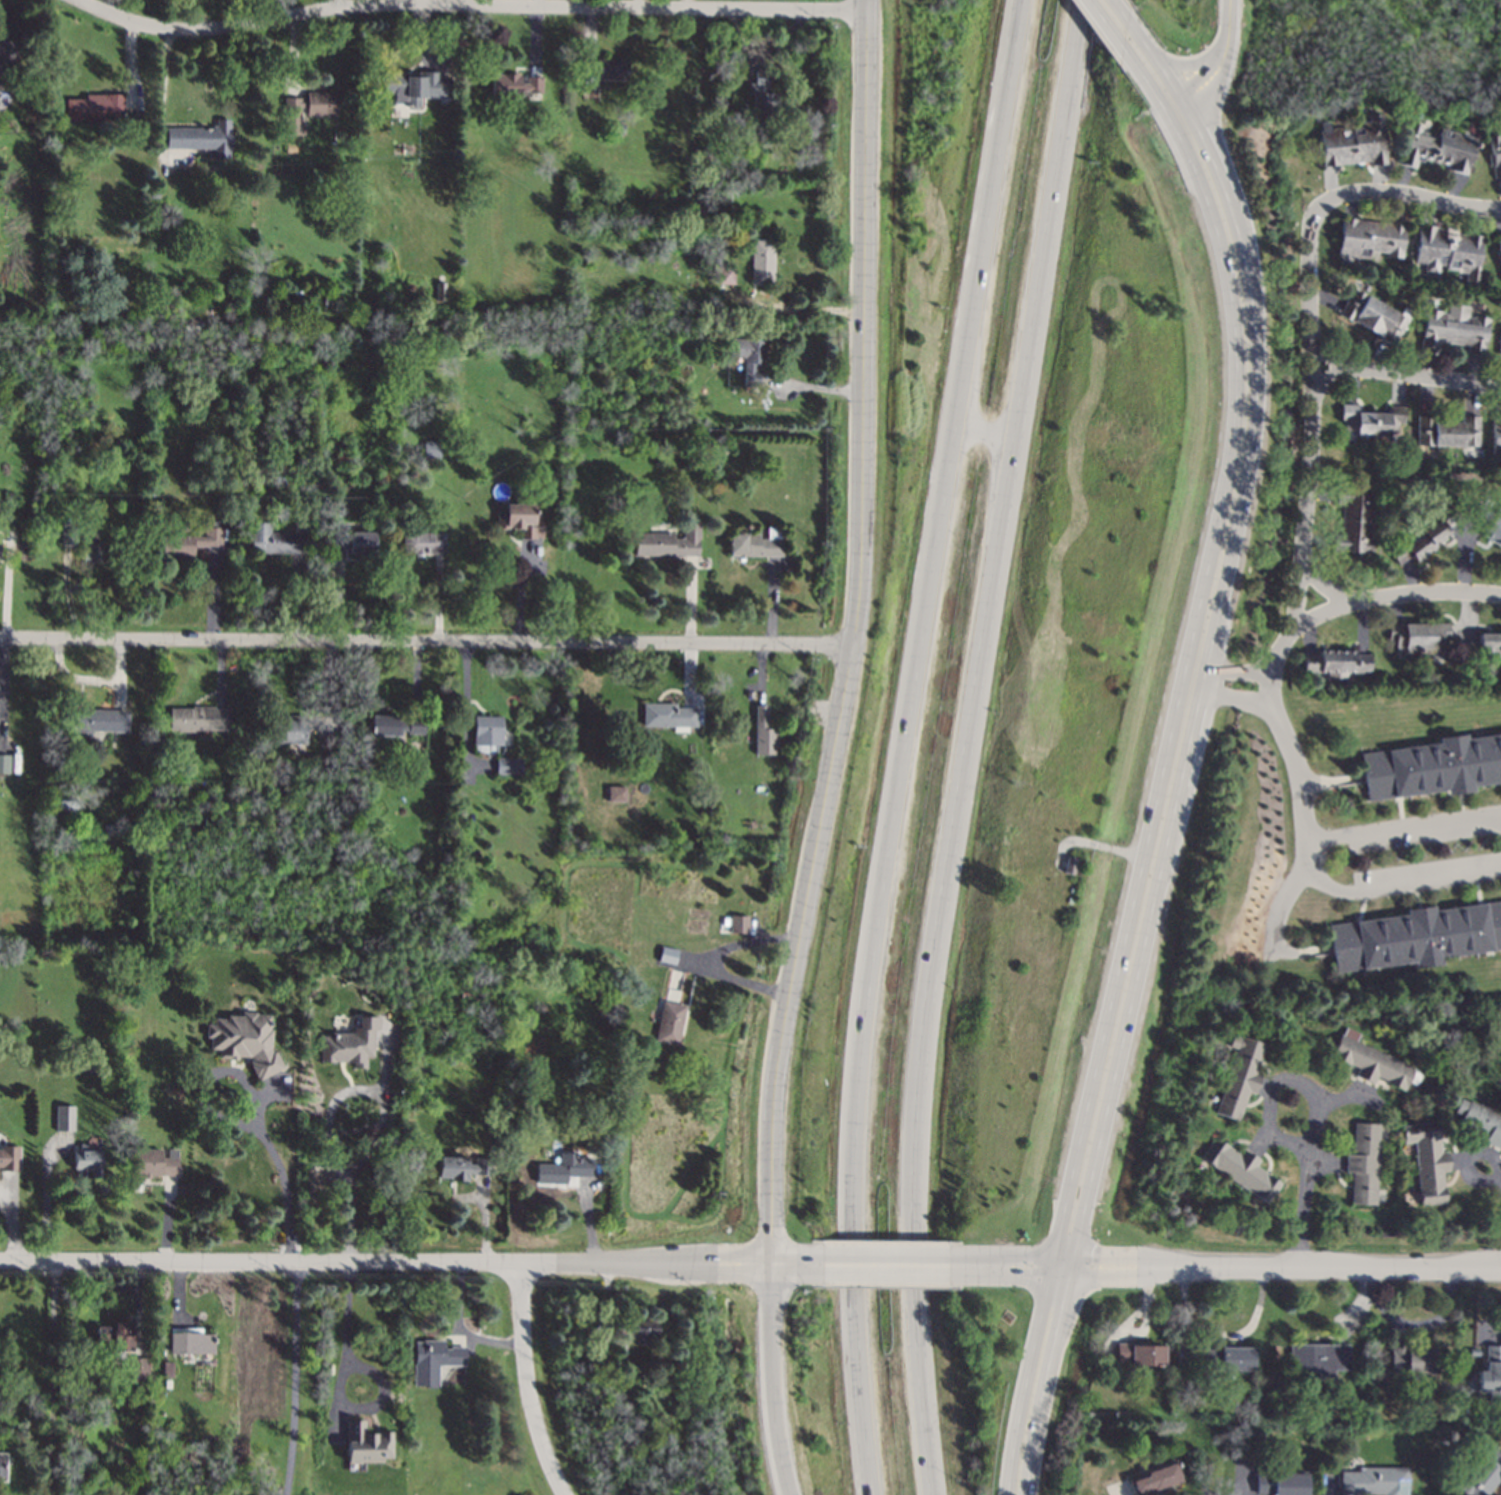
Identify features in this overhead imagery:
road: (457, 3)
road: (468, 6)
road: (1115, 20)
road: (1216, 62)
building: (7, 63)
road: (1184, 63)
building: (604, 67)
road: (1154, 77)
building: (514, 84)
building: (416, 85)
building: (761, 90)
road: (162, 92)
building: (320, 103)
building: (94, 106)
building: (292, 114)
building: (201, 137)
building: (1351, 142)
building: (1435, 148)
building: (1494, 154)
road: (1405, 195)
building: (1369, 237)
building: (1447, 250)
building: (1498, 251)
building: (761, 261)
building: (724, 274)
road: (1307, 279)
road: (809, 312)
building: (1453, 328)
building: (1498, 341)
building: (748, 356)
road: (1403, 372)
building: (1370, 420)
building: (1446, 431)
road: (975, 433)
building: (1495, 434)
building: (431, 448)
building: (519, 519)
building: (1353, 520)
road: (1294, 523)
building: (1493, 525)
building: (68, 534)
building: (276, 538)
building: (193, 540)
building: (354, 542)
building: (423, 542)
building: (668, 542)
building: (1420, 542)
building: (755, 543)
building: (92, 552)
road: (927, 564)
road: (982, 566)
road: (1384, 595)
road: (859, 634)
building: (1418, 636)
road: (429, 643)
building: (1488, 643)
building: (1335, 663)
road: (1234, 670)
road: (1191, 687)
road: (1230, 698)
building: (667, 715)
building: (198, 718)
building: (97, 720)
building: (395, 724)
building: (288, 730)
building: (486, 732)
building: (762, 732)
building: (4, 763)
building: (507, 765)
building: (1432, 766)
road: (1295, 773)
building: (615, 793)
road: (1310, 863)
building: (1068, 864)
road: (1282, 914)
building: (737, 923)
building: (1414, 936)
building: (667, 954)
road: (687, 958)
building: (668, 1022)
building: (244, 1040)
building: (349, 1043)
building: (1367, 1060)
building: (1237, 1076)
road: (255, 1106)
road: (1314, 1113)
road: (382, 1116)
building: (64, 1117)
building: (1478, 1121)
building: (8, 1157)
building: (1426, 1160)
building: (87, 1161)
building: (154, 1162)
building: (1362, 1163)
building: (458, 1166)
building: (563, 1168)
building: (1237, 1168)
road: (1490, 1175)
road: (1093, 1256)
road: (1023, 1257)
road: (404, 1261)
road: (838, 1261)
road: (914, 1262)
road: (974, 1263)
road: (1312, 1267)
road: (1021, 1274)
road: (1091, 1275)
road: (1368, 1278)
road: (842, 1312)
road: (1349, 1313)
road: (924, 1315)
road: (1183, 1316)
road: (1145, 1320)
road: (1422, 1325)
road: (1492, 1326)
building: (570, 1327)
building: (640, 1330)
road: (1245, 1331)
road: (1400, 1332)
road: (1495, 1334)
building: (116, 1336)
road: (1237, 1339)
building: (189, 1341)
building: (1474, 1350)
building: (621, 1352)
building: (1140, 1353)
road: (1192, 1354)
building: (1228, 1357)
building: (1320, 1358)
building: (1412, 1360)
building: (434, 1361)
building: (138, 1367)
building: (167, 1370)
road: (370, 1372)
building: (1491, 1373)
road: (53, 1376)
road: (293, 1377)
road: (1034, 1379)
road: (523, 1382)
building: (625, 1384)
road: (1054, 1386)
building: (618, 1400)
building: (646, 1425)
building: (366, 1442)
building: (2, 1465)
building: (1482, 1476)
building: (1157, 1478)
road: (1240, 1479)
building: (1375, 1481)
building: (1281, 1482)
road: (1326, 1487)
road: (1121, 1491)
road: (1497, 1491)

